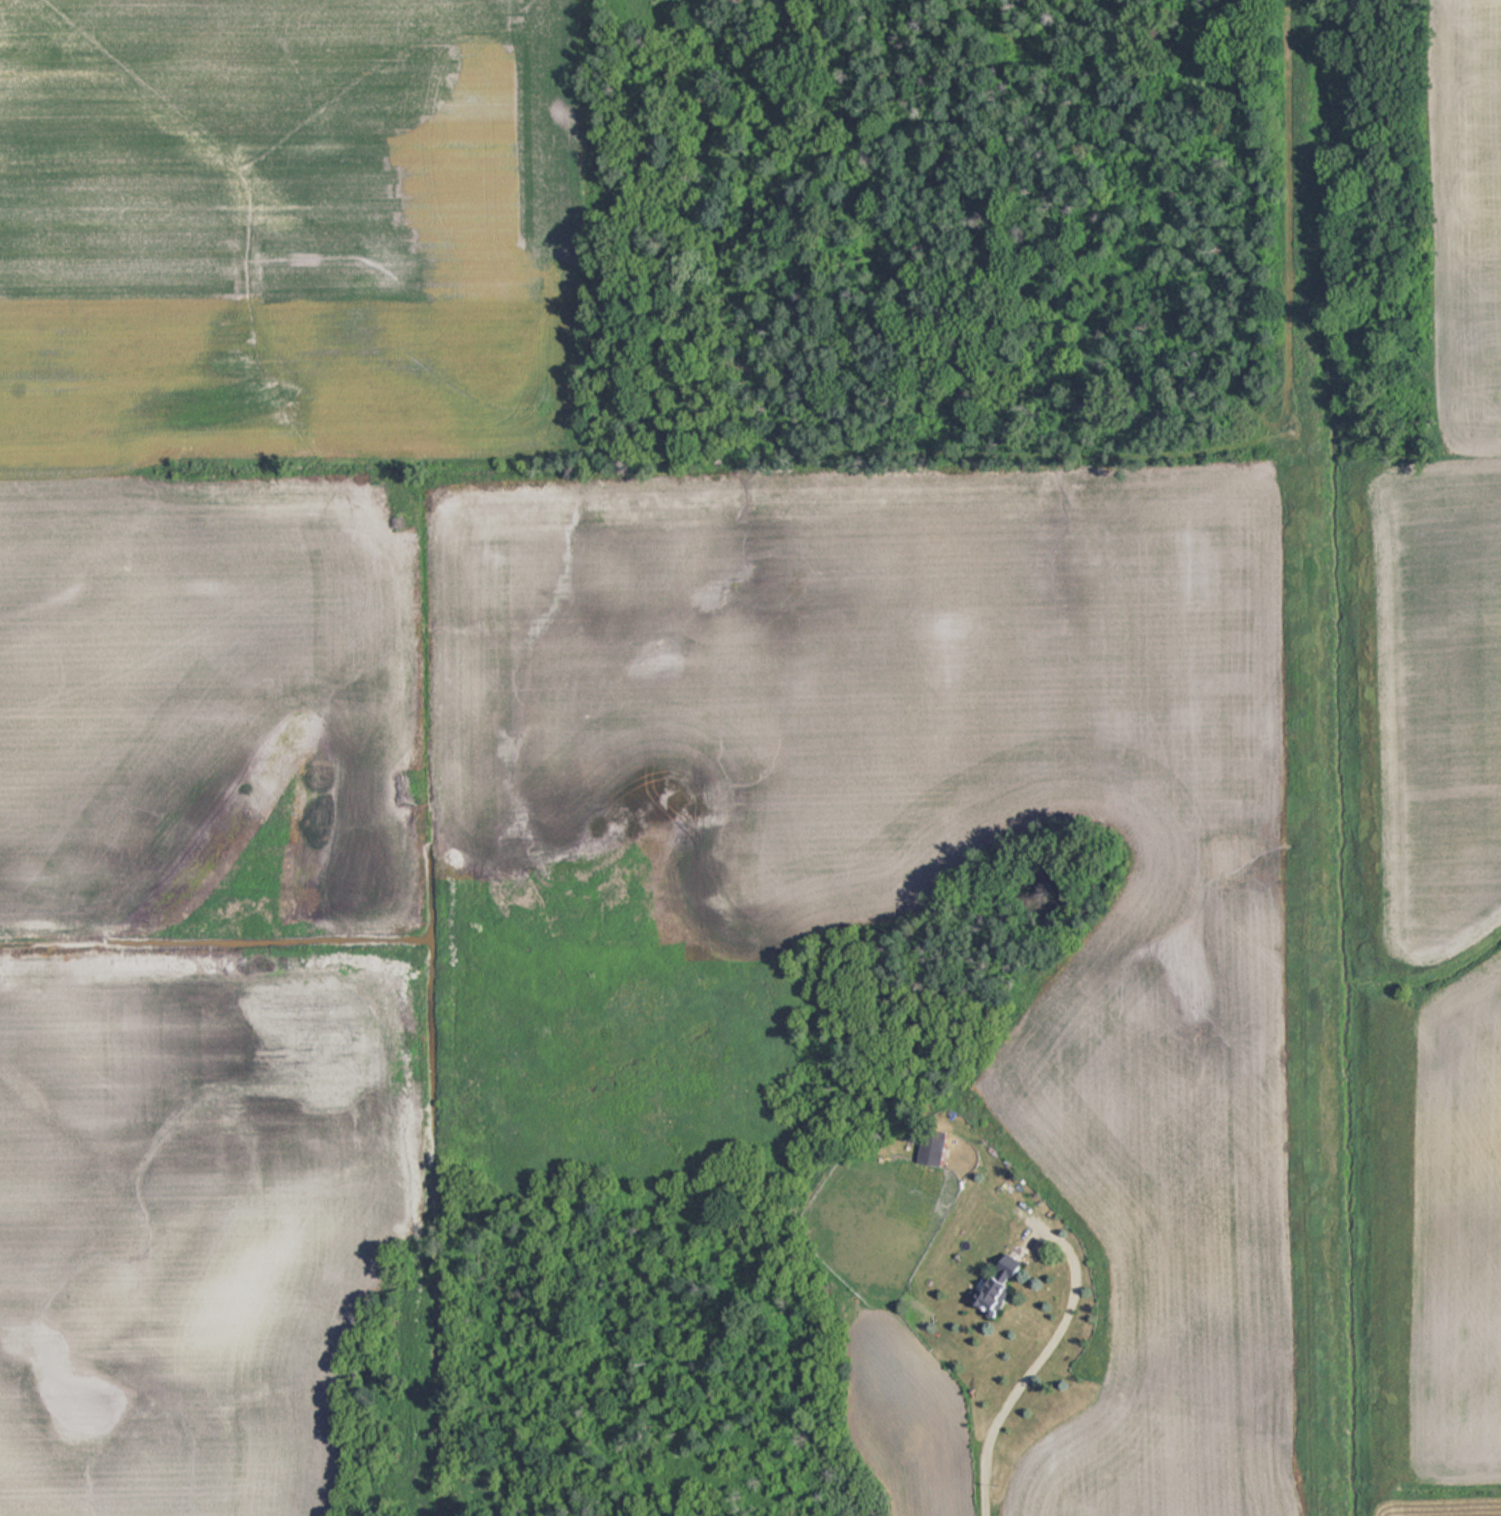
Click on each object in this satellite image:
building: (936, 1145)
building: (1008, 1280)

